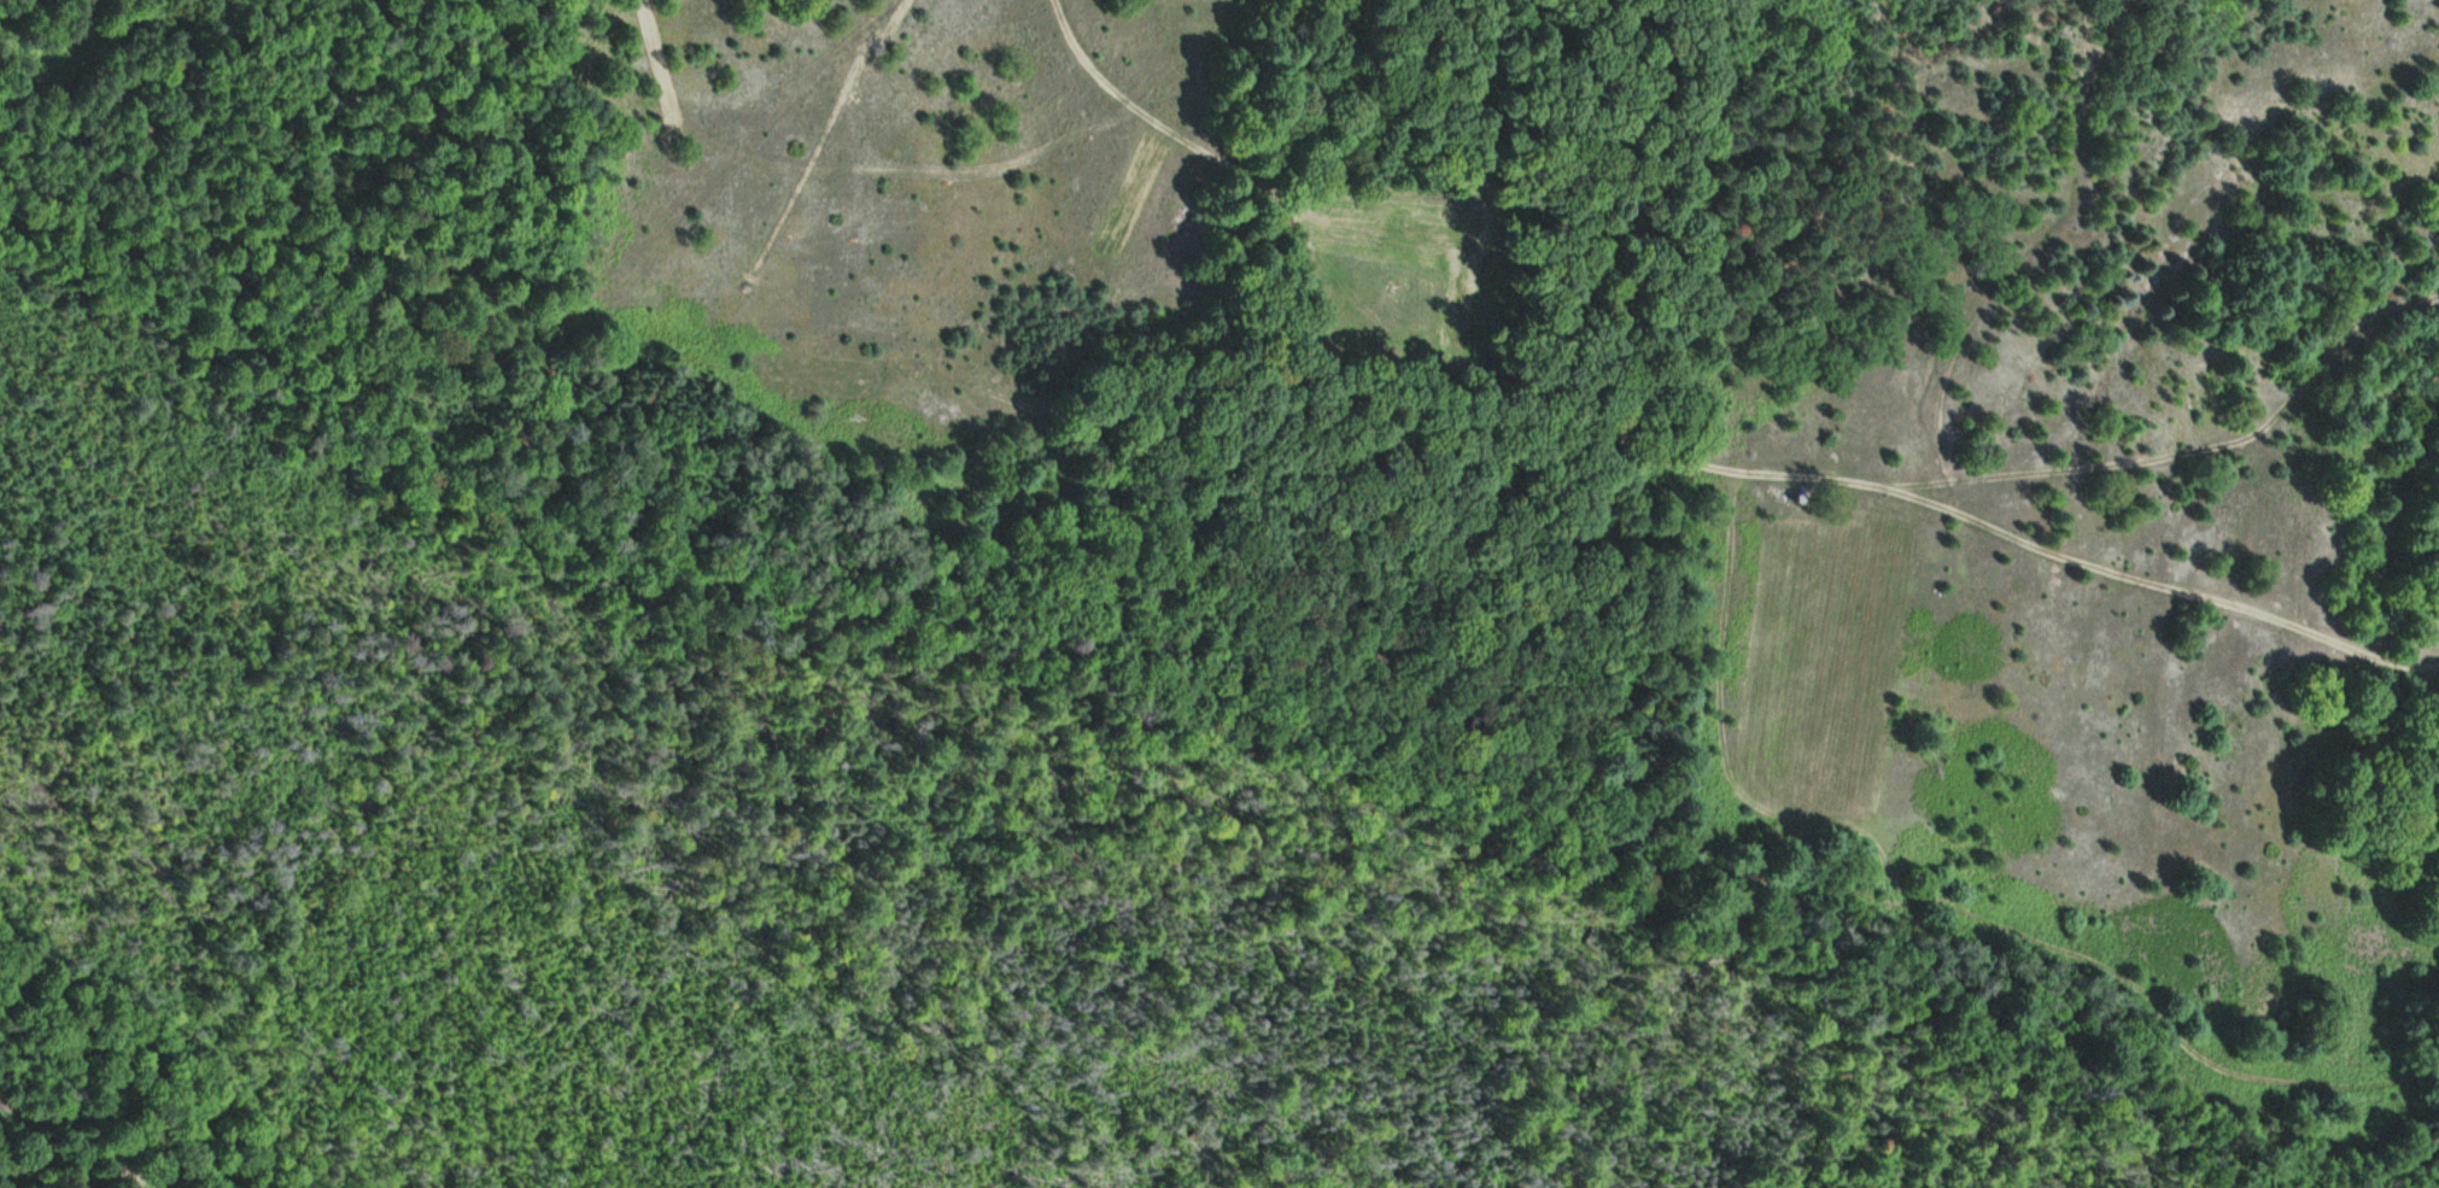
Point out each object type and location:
road: (77, 1137)

